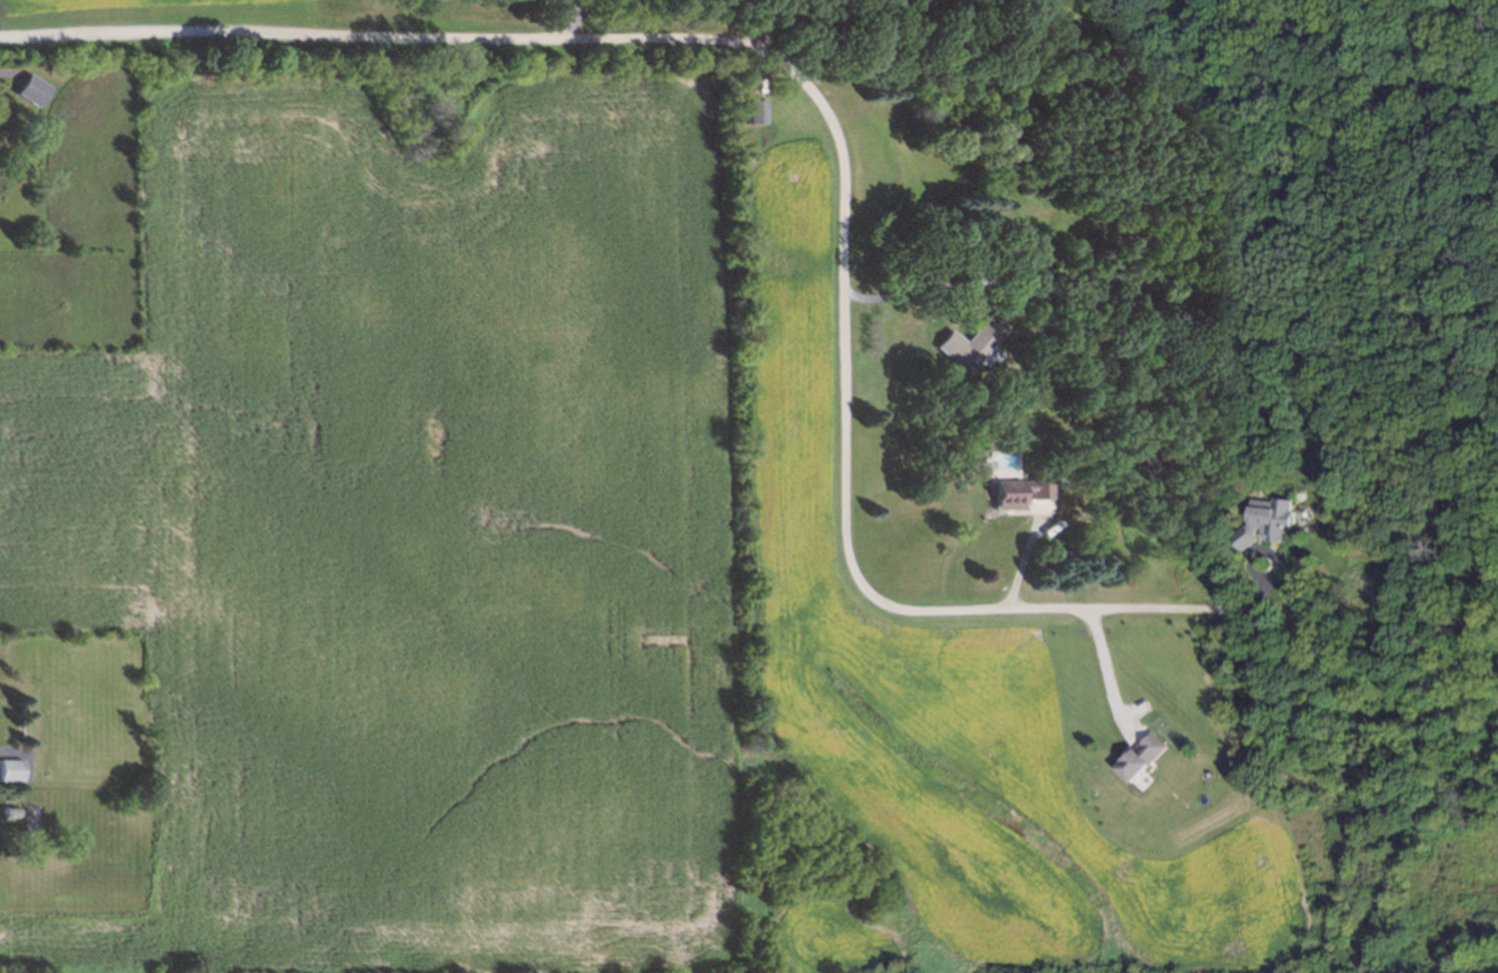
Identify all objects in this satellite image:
building: (28, 89)
building: (752, 110)
road: (828, 116)
building: (1031, 285)
road: (906, 286)
building: (965, 344)
building: (1003, 495)
building: (1262, 519)
road: (1019, 563)
road: (1101, 664)
building: (1141, 754)
building: (9, 770)
building: (7, 811)

